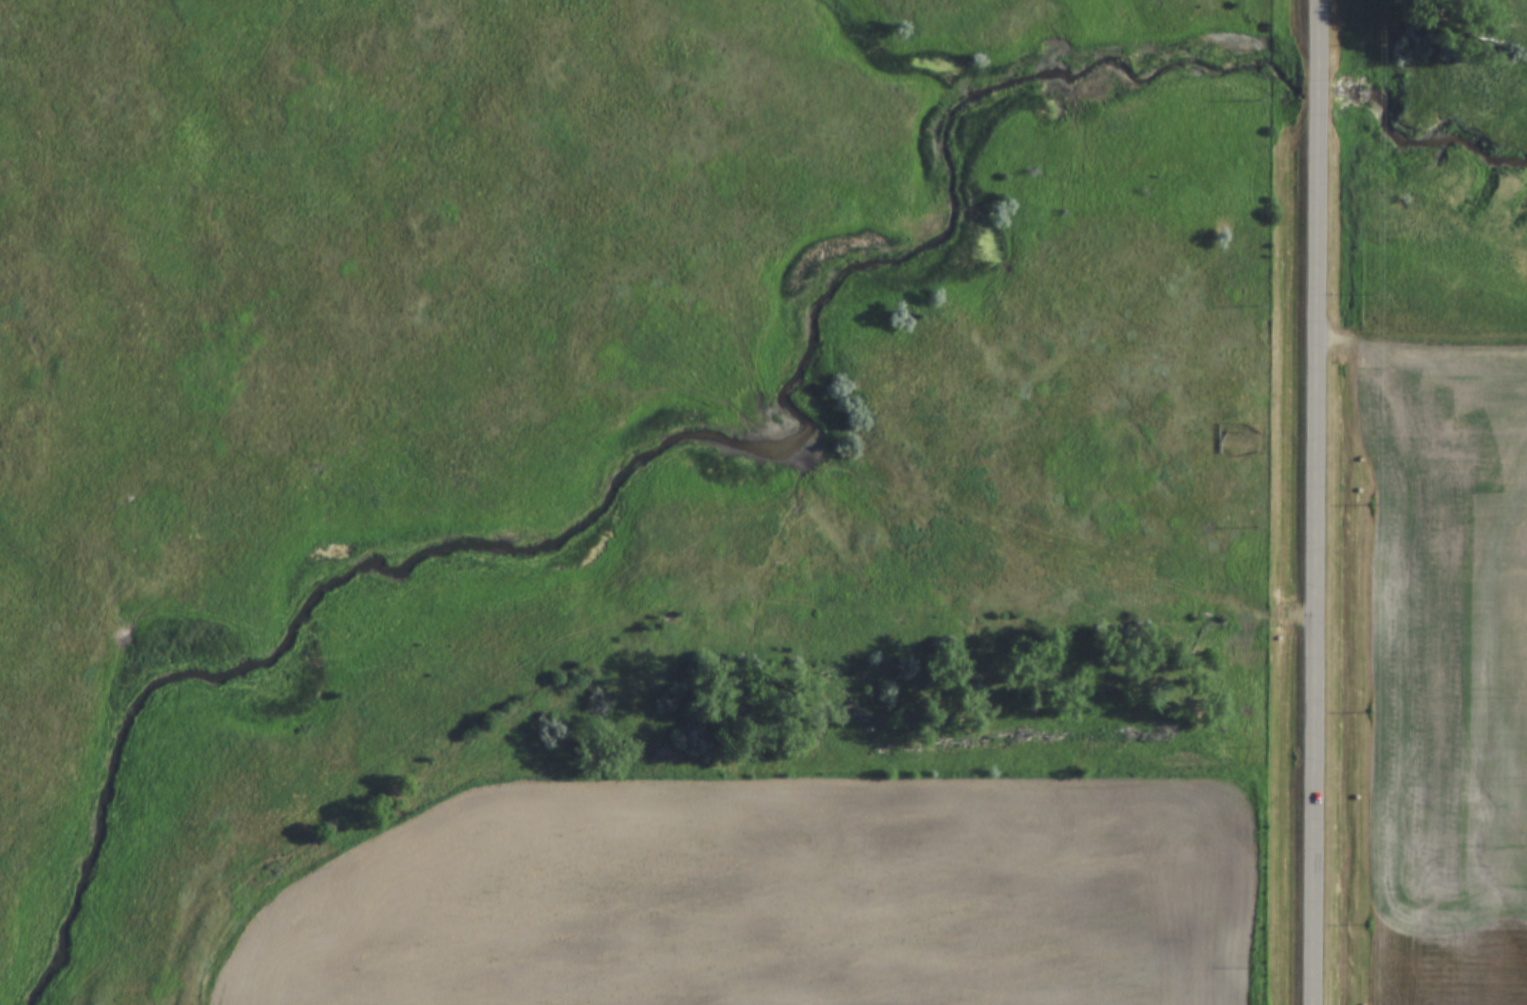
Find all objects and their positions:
road: (1424, 346)
road: (1320, 502)

